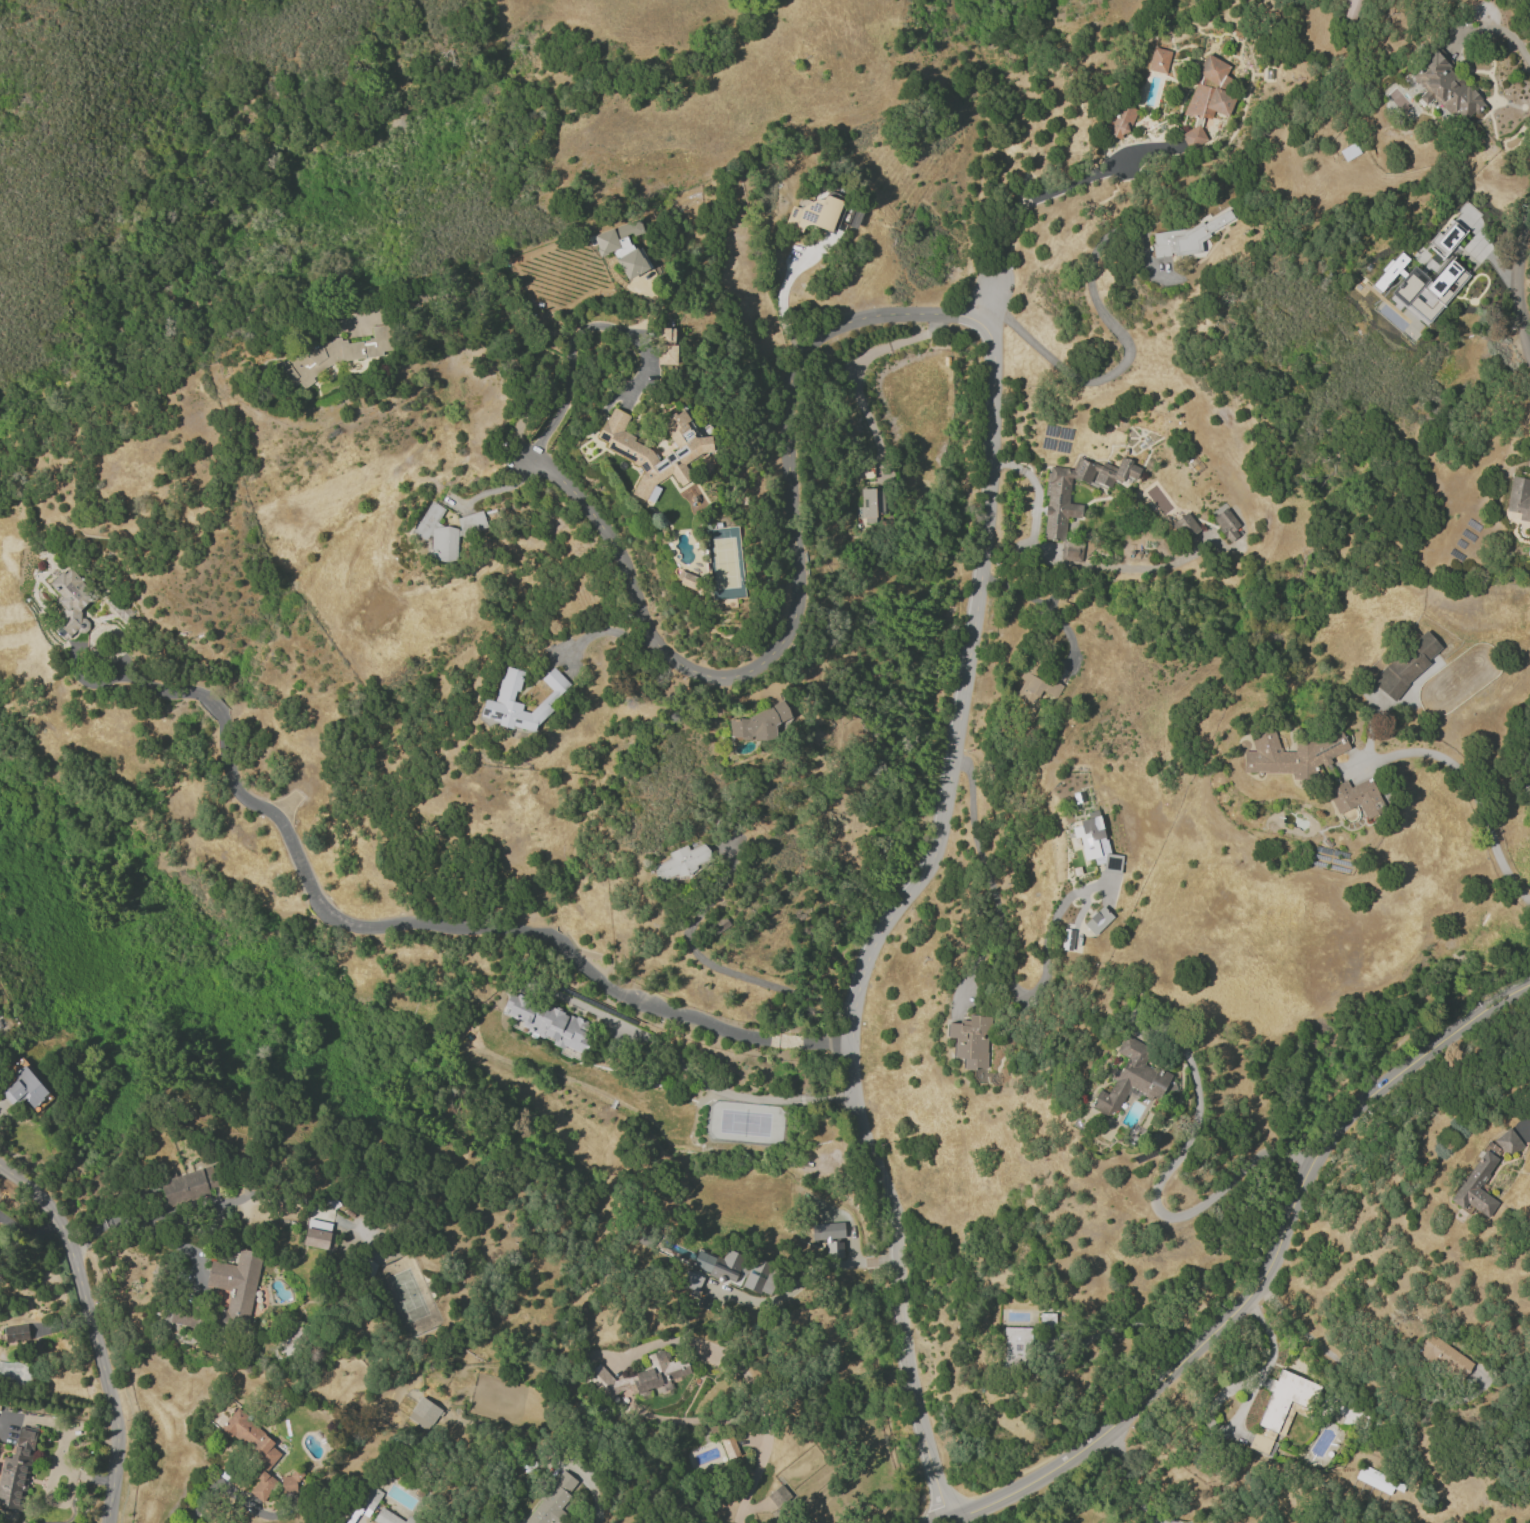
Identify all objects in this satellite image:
building: (1350, 9)
road: (1517, 11)
road: (1490, 28)
building: (1158, 60)
road: (1009, 80)
building: (1445, 86)
building: (1205, 99)
building: (1119, 121)
building: (1348, 151)
road: (1032, 196)
building: (814, 213)
building: (854, 218)
building: (1453, 229)
building: (615, 236)
building: (1187, 237)
building: (631, 263)
building: (1388, 271)
road: (1517, 285)
building: (1425, 295)
road: (781, 296)
building: (665, 346)
building: (331, 356)
road: (567, 357)
road: (1126, 359)
road: (855, 369)
building: (684, 453)
road: (496, 489)
building: (1519, 498)
building: (870, 504)
building: (1062, 510)
building: (471, 522)
building: (1226, 525)
building: (1183, 526)
building: (436, 534)
road: (1099, 566)
building: (688, 581)
road: (797, 590)
building: (70, 602)
road: (1043, 606)
road: (601, 632)
building: (1407, 664)
building: (503, 699)
building: (758, 723)
building: (1290, 754)
road: (1475, 794)
building: (1356, 797)
building: (1094, 842)
building: (681, 863)
road: (987, 873)
road: (893, 909)
building: (1097, 920)
road: (402, 921)
road: (1049, 930)
building: (1066, 939)
road: (735, 974)
building: (550, 1024)
building: (971, 1044)
road: (696, 1075)
building: (1130, 1078)
building: (24, 1088)
road: (1525, 1127)
building: (1507, 1142)
building: (187, 1185)
building: (1475, 1186)
road: (1160, 1213)
road: (135, 1224)
building: (316, 1234)
building: (829, 1237)
building: (736, 1269)
road: (802, 1277)
road: (1258, 1277)
building: (690, 1281)
building: (235, 1284)
road: (1345, 1295)
road: (95, 1331)
building: (15, 1333)
building: (1016, 1346)
building: (1444, 1356)
road: (1267, 1360)
road: (1352, 1365)
building: (641, 1376)
building: (1280, 1407)
building: (422, 1413)
road: (734, 1424)
building: (728, 1446)
building: (253, 1450)
road: (1128, 1478)
building: (1378, 1480)
building: (289, 1484)
road: (228, 1489)
building: (369, 1497)
road: (594, 1497)
building: (780, 1497)
building: (551, 1500)
building: (388, 1517)
building: (1219, 1520)
road: (358, 1521)

